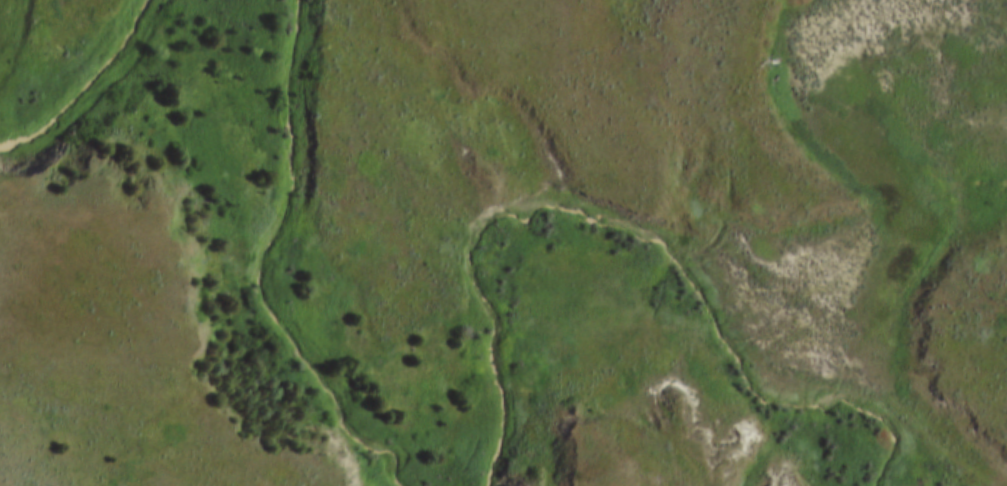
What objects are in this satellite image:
river: (87, 88)
river: (630, 227)
river: (271, 263)

